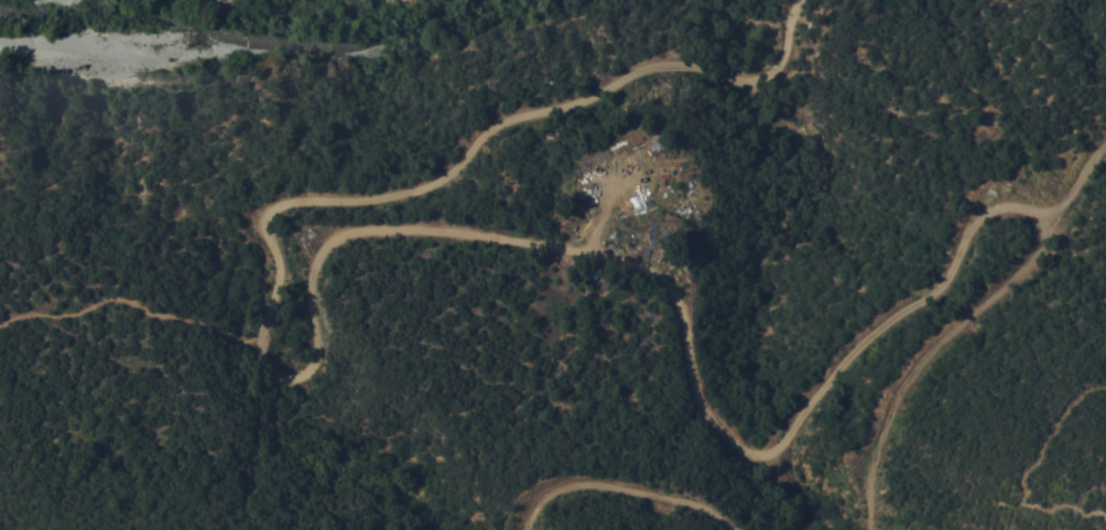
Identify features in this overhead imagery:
river: (215, 22)
road: (1073, 182)
road: (398, 192)
road: (131, 307)
road: (838, 366)
road: (625, 486)

